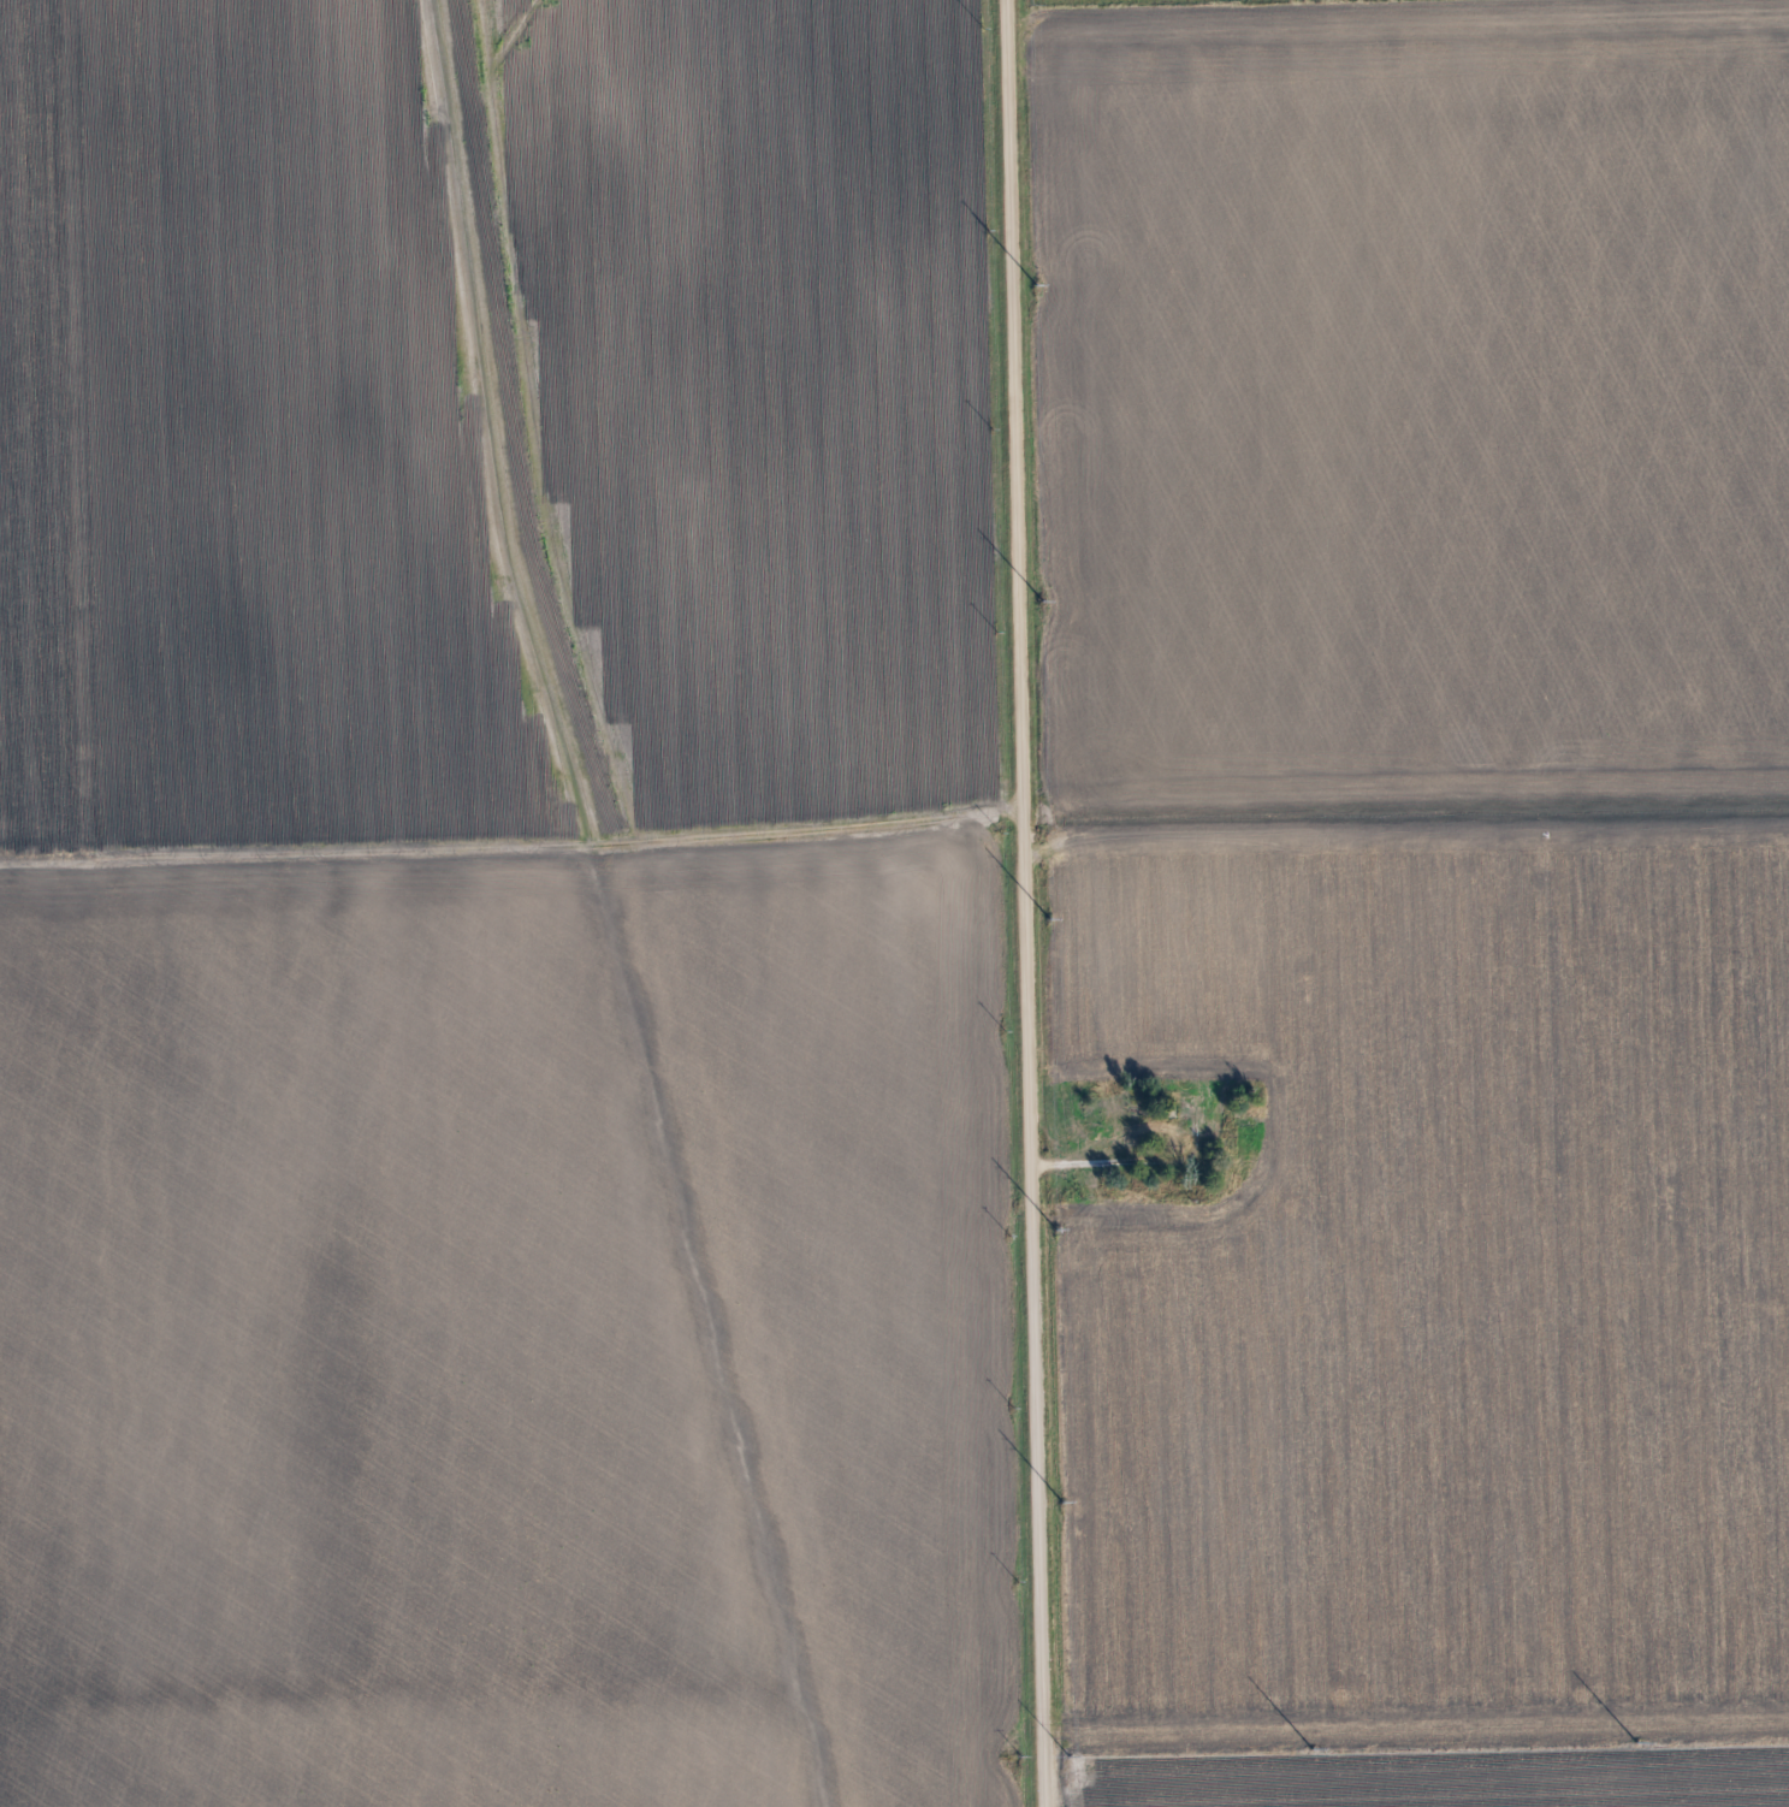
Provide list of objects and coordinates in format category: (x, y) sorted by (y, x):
road: (1021, 902)

